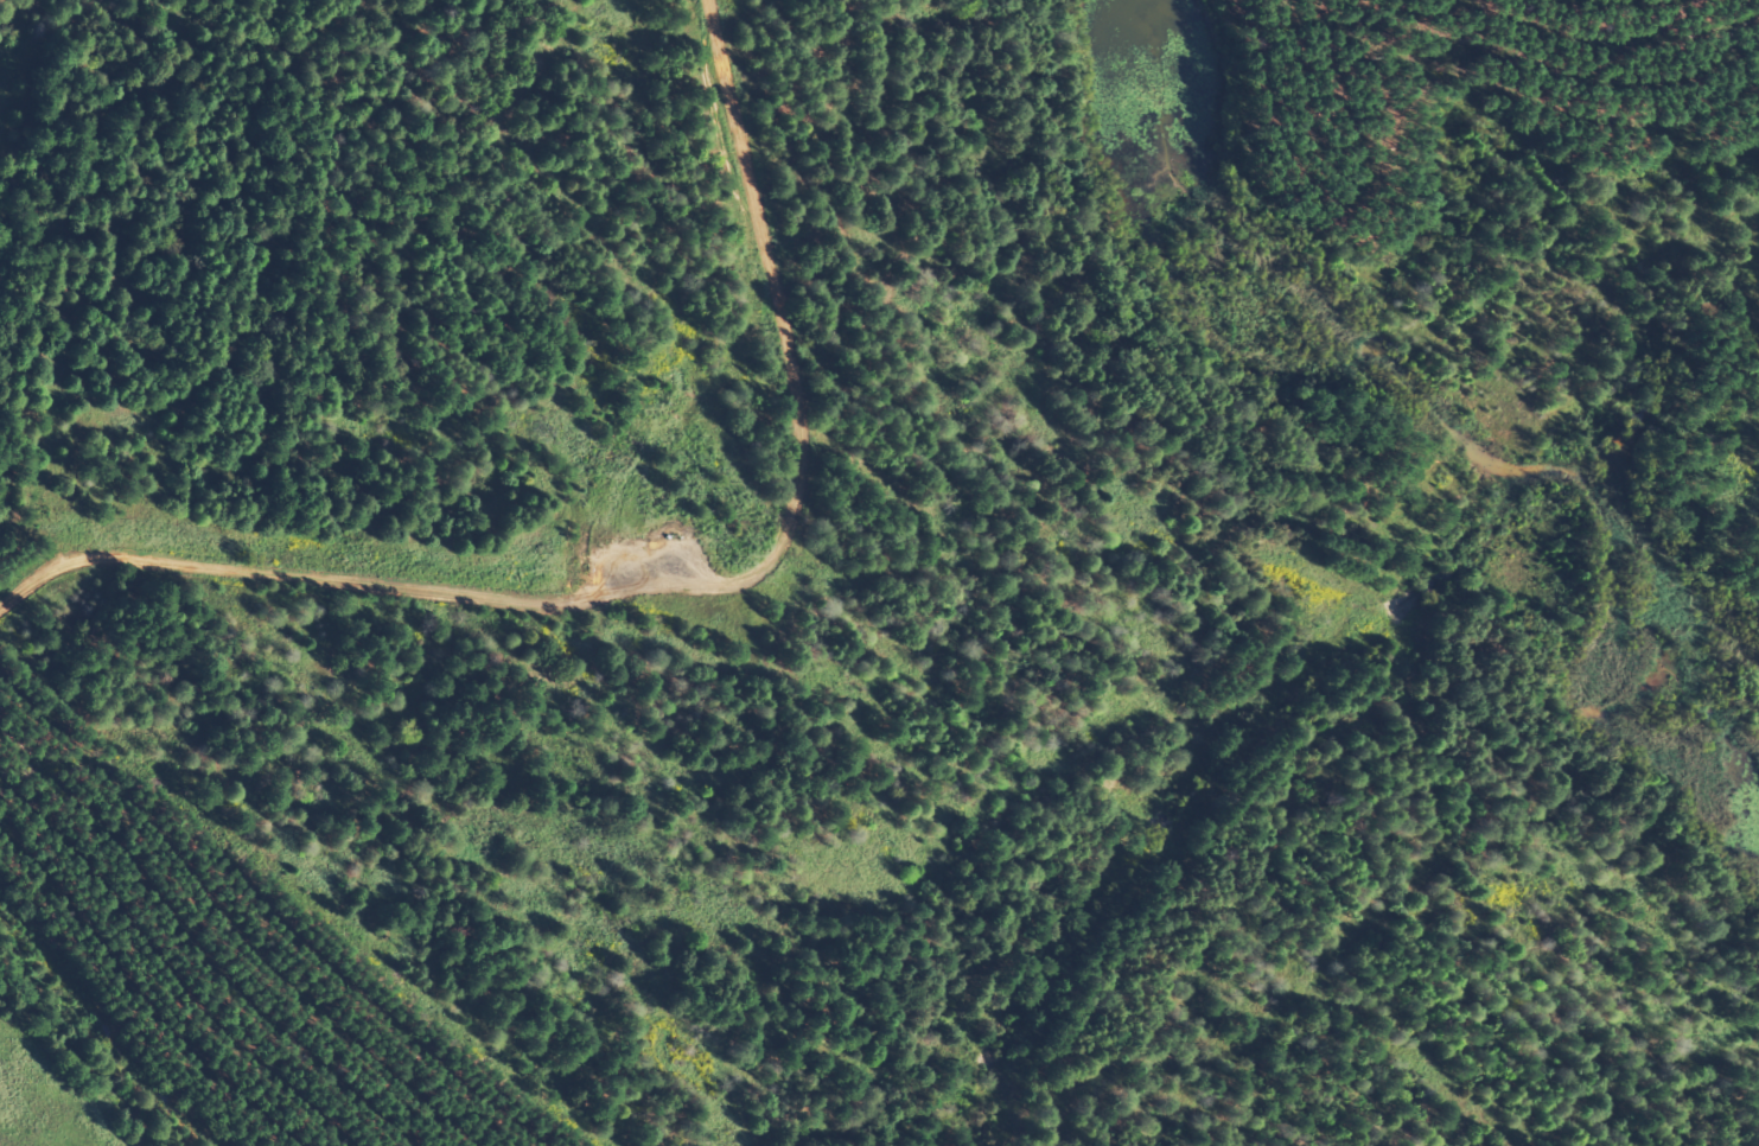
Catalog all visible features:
road: (669, 590)

